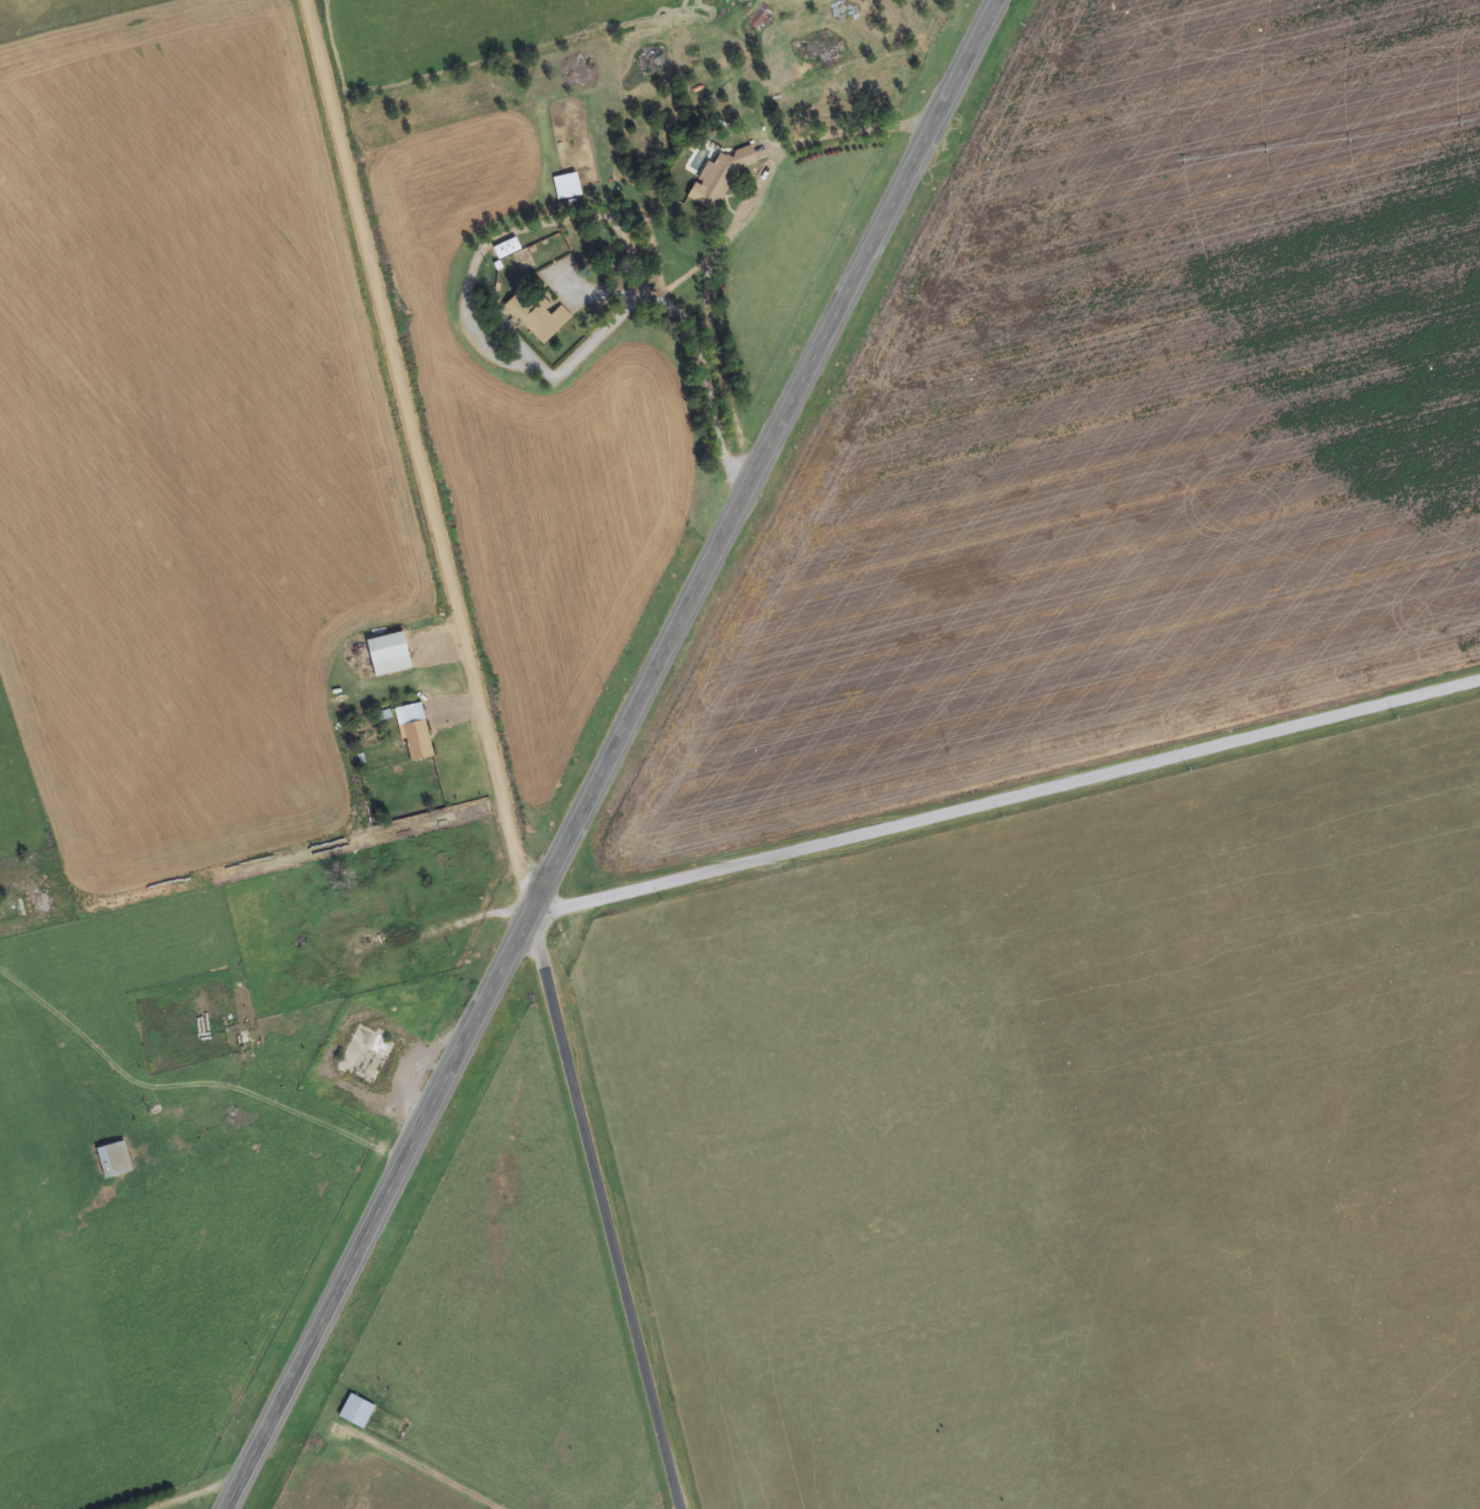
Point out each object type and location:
building: (721, 179)
building: (567, 187)
road: (743, 208)
building: (507, 249)
building: (540, 318)
building: (390, 655)
building: (416, 733)
road: (495, 755)
road: (616, 756)
road: (1007, 799)
building: (368, 907)
building: (115, 1160)
building: (357, 1413)

